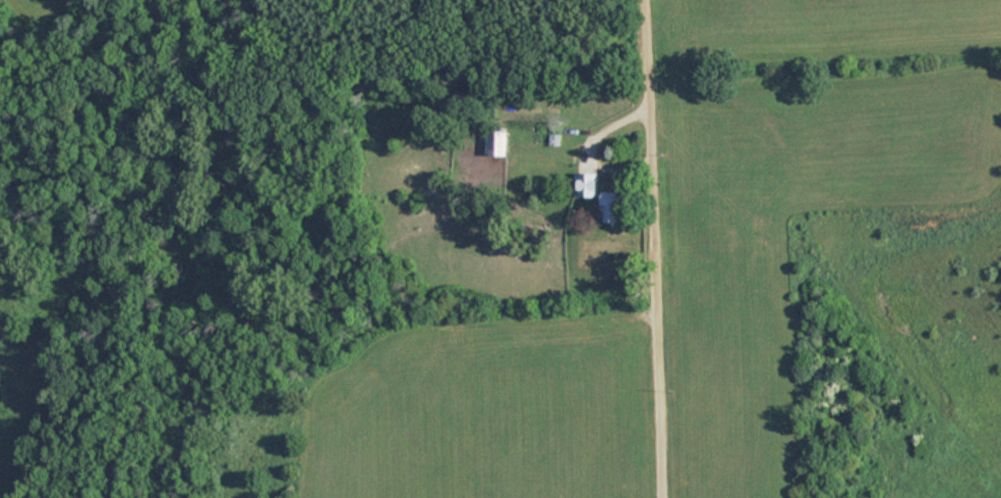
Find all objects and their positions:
road: (646, 80)
building: (499, 142)
building: (588, 184)
building: (613, 206)
road: (654, 328)

